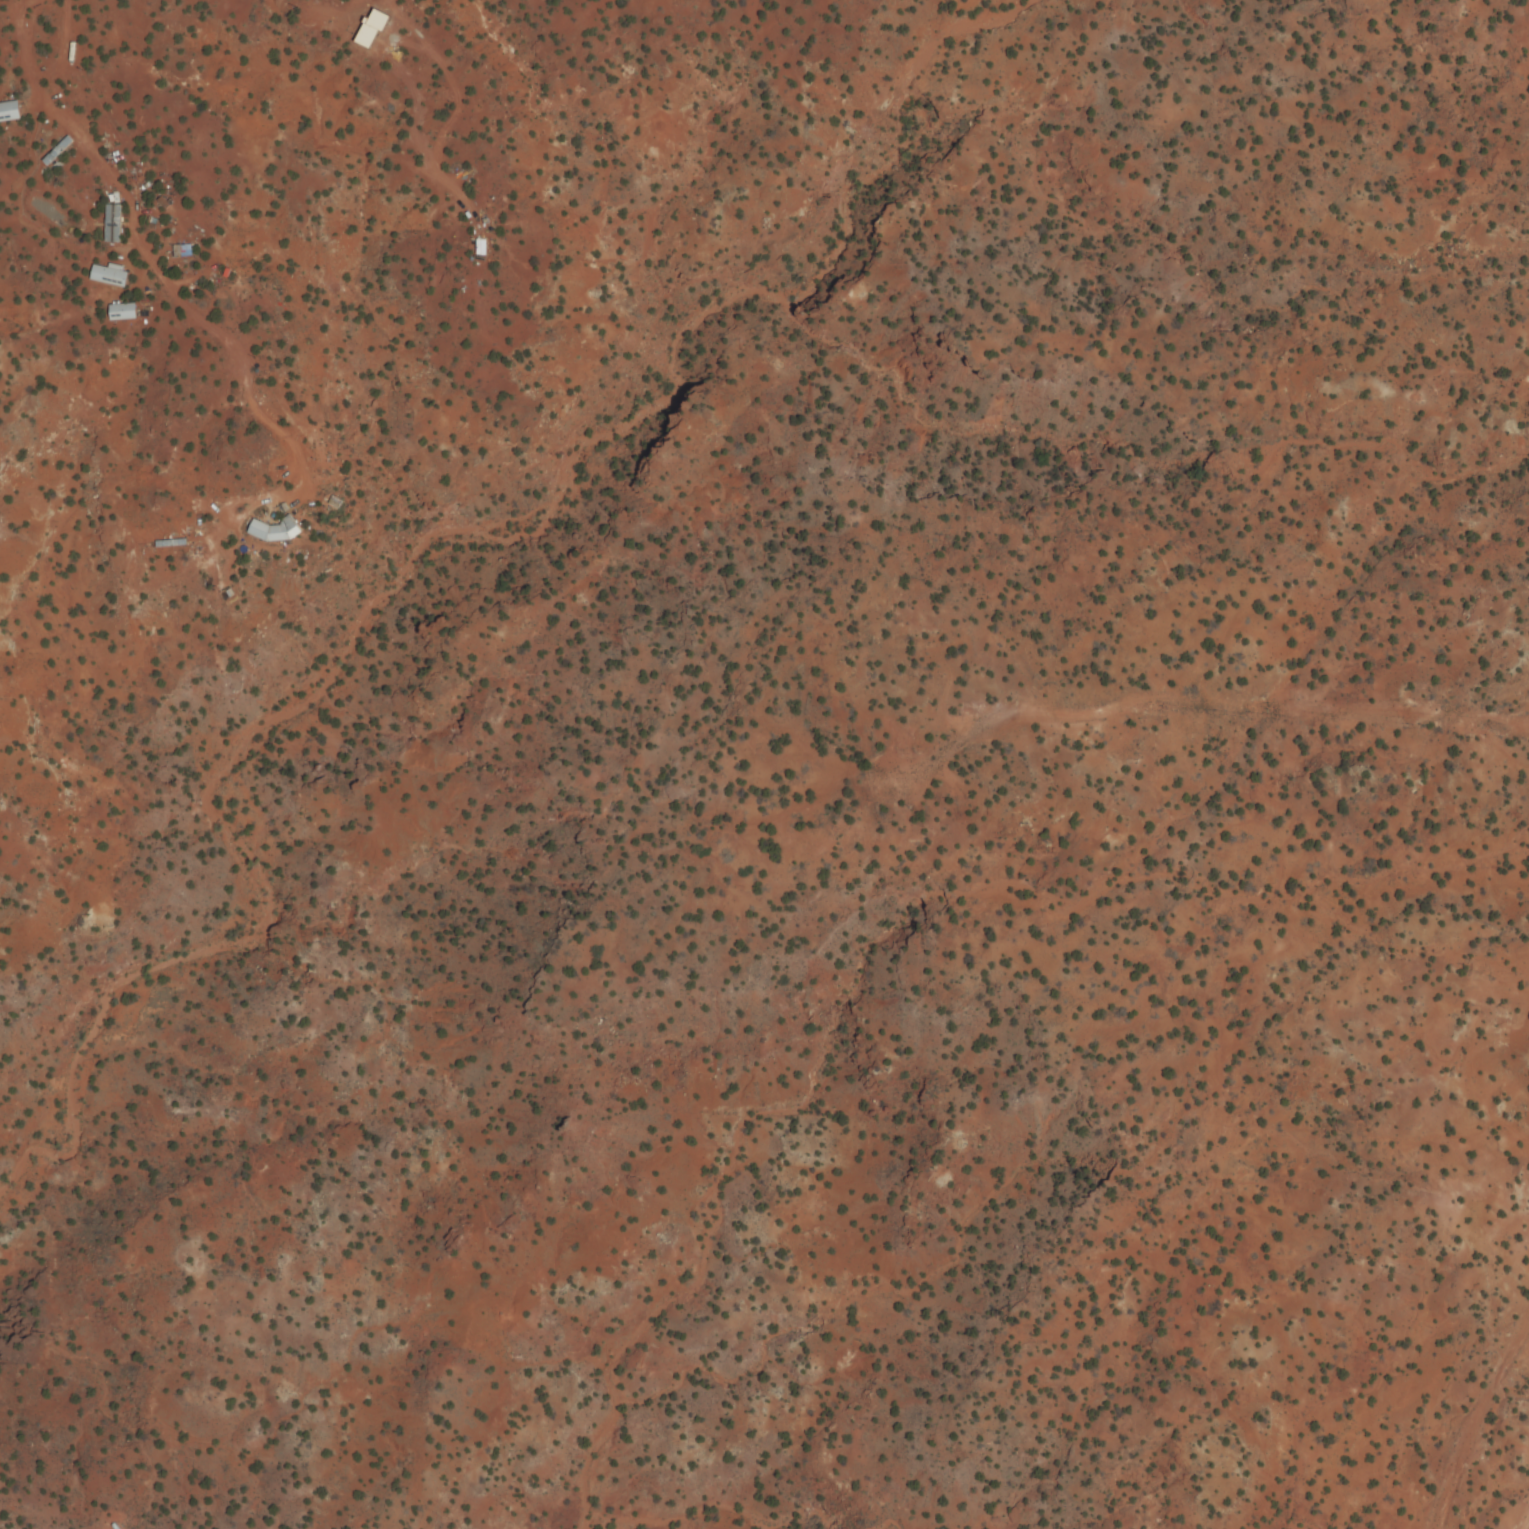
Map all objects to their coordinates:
road: (45, 101)
building: (11, 112)
building: (114, 225)
building: (183, 252)
building: (110, 277)
building: (124, 313)
building: (276, 531)
road: (1480, 1427)

